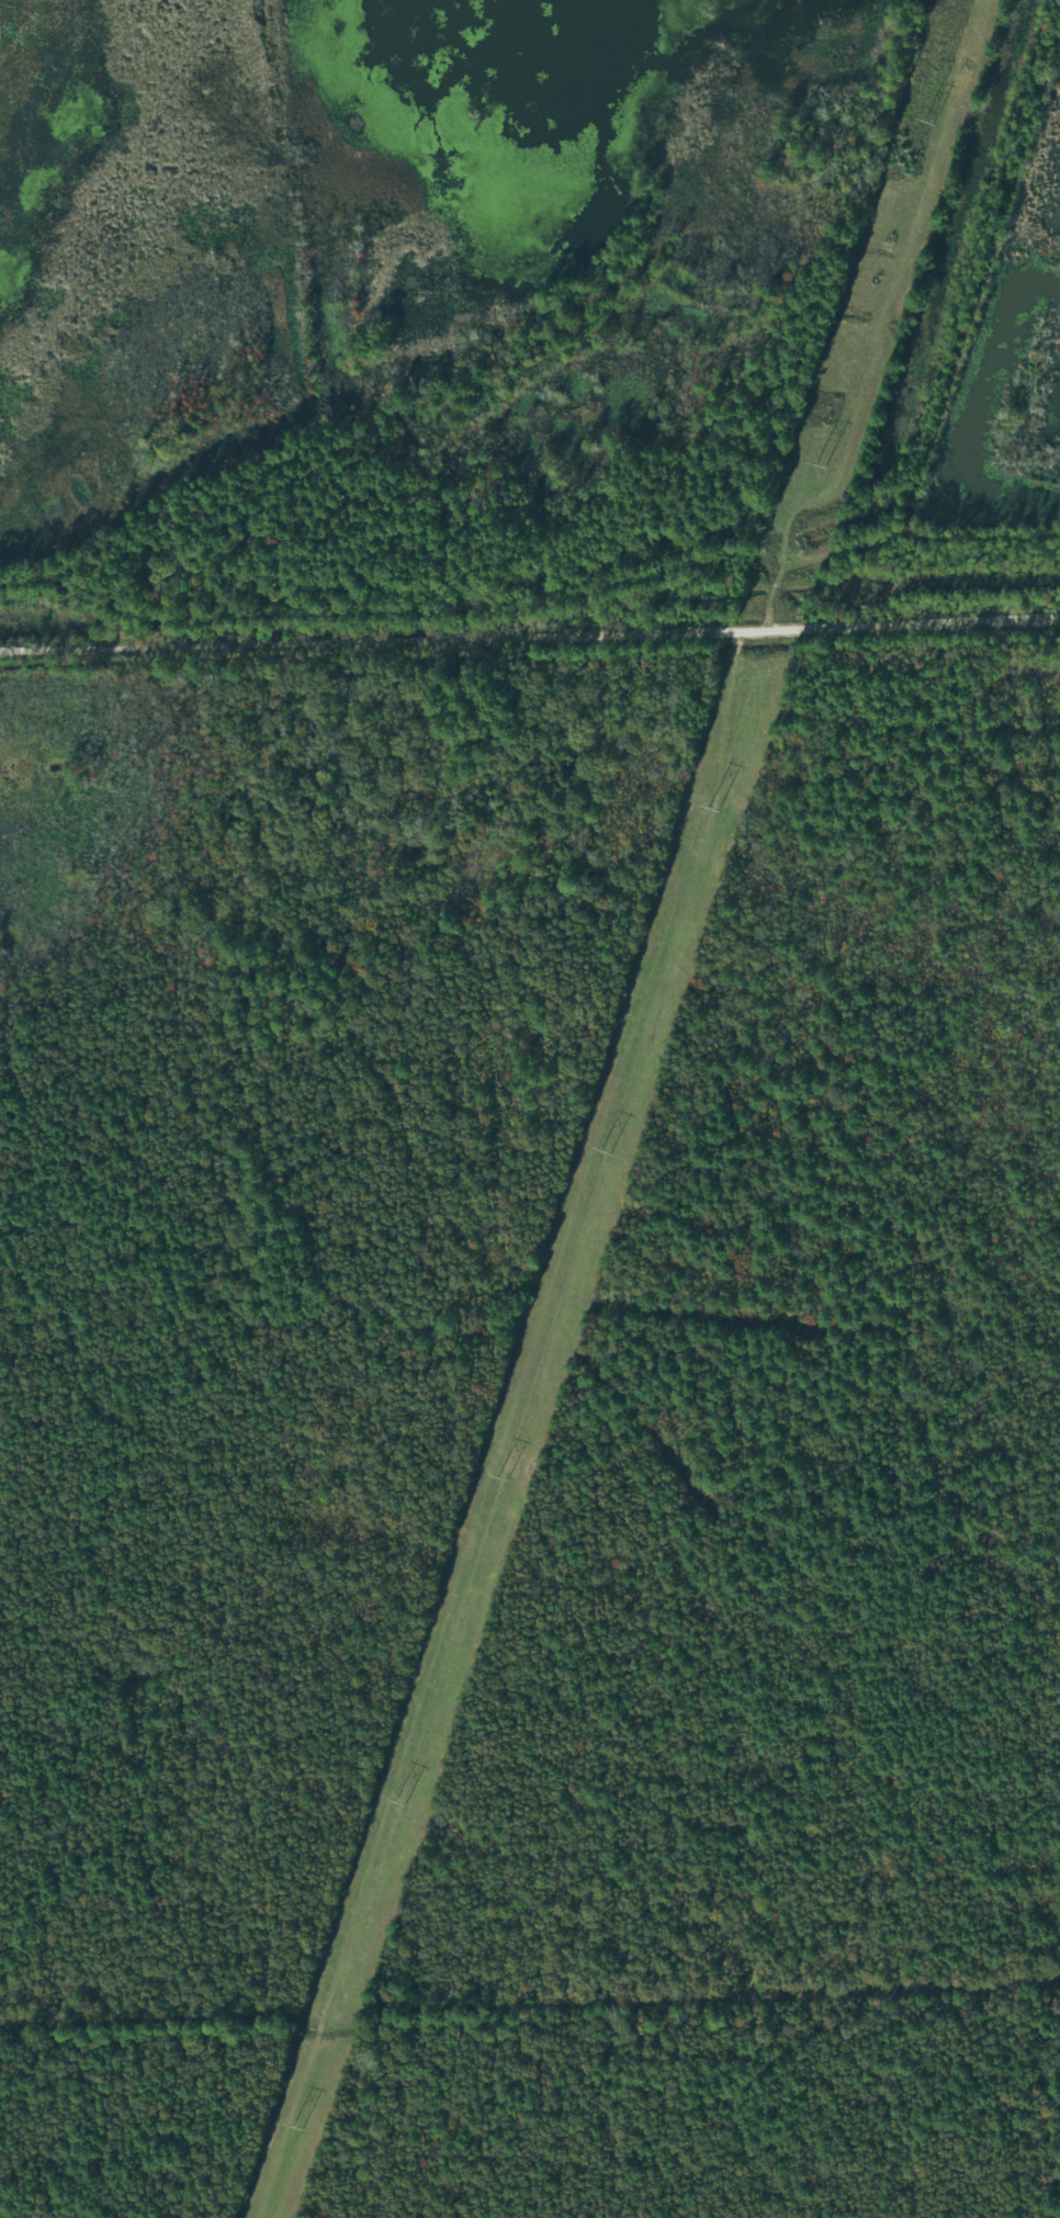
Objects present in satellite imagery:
road: (530, 653)

